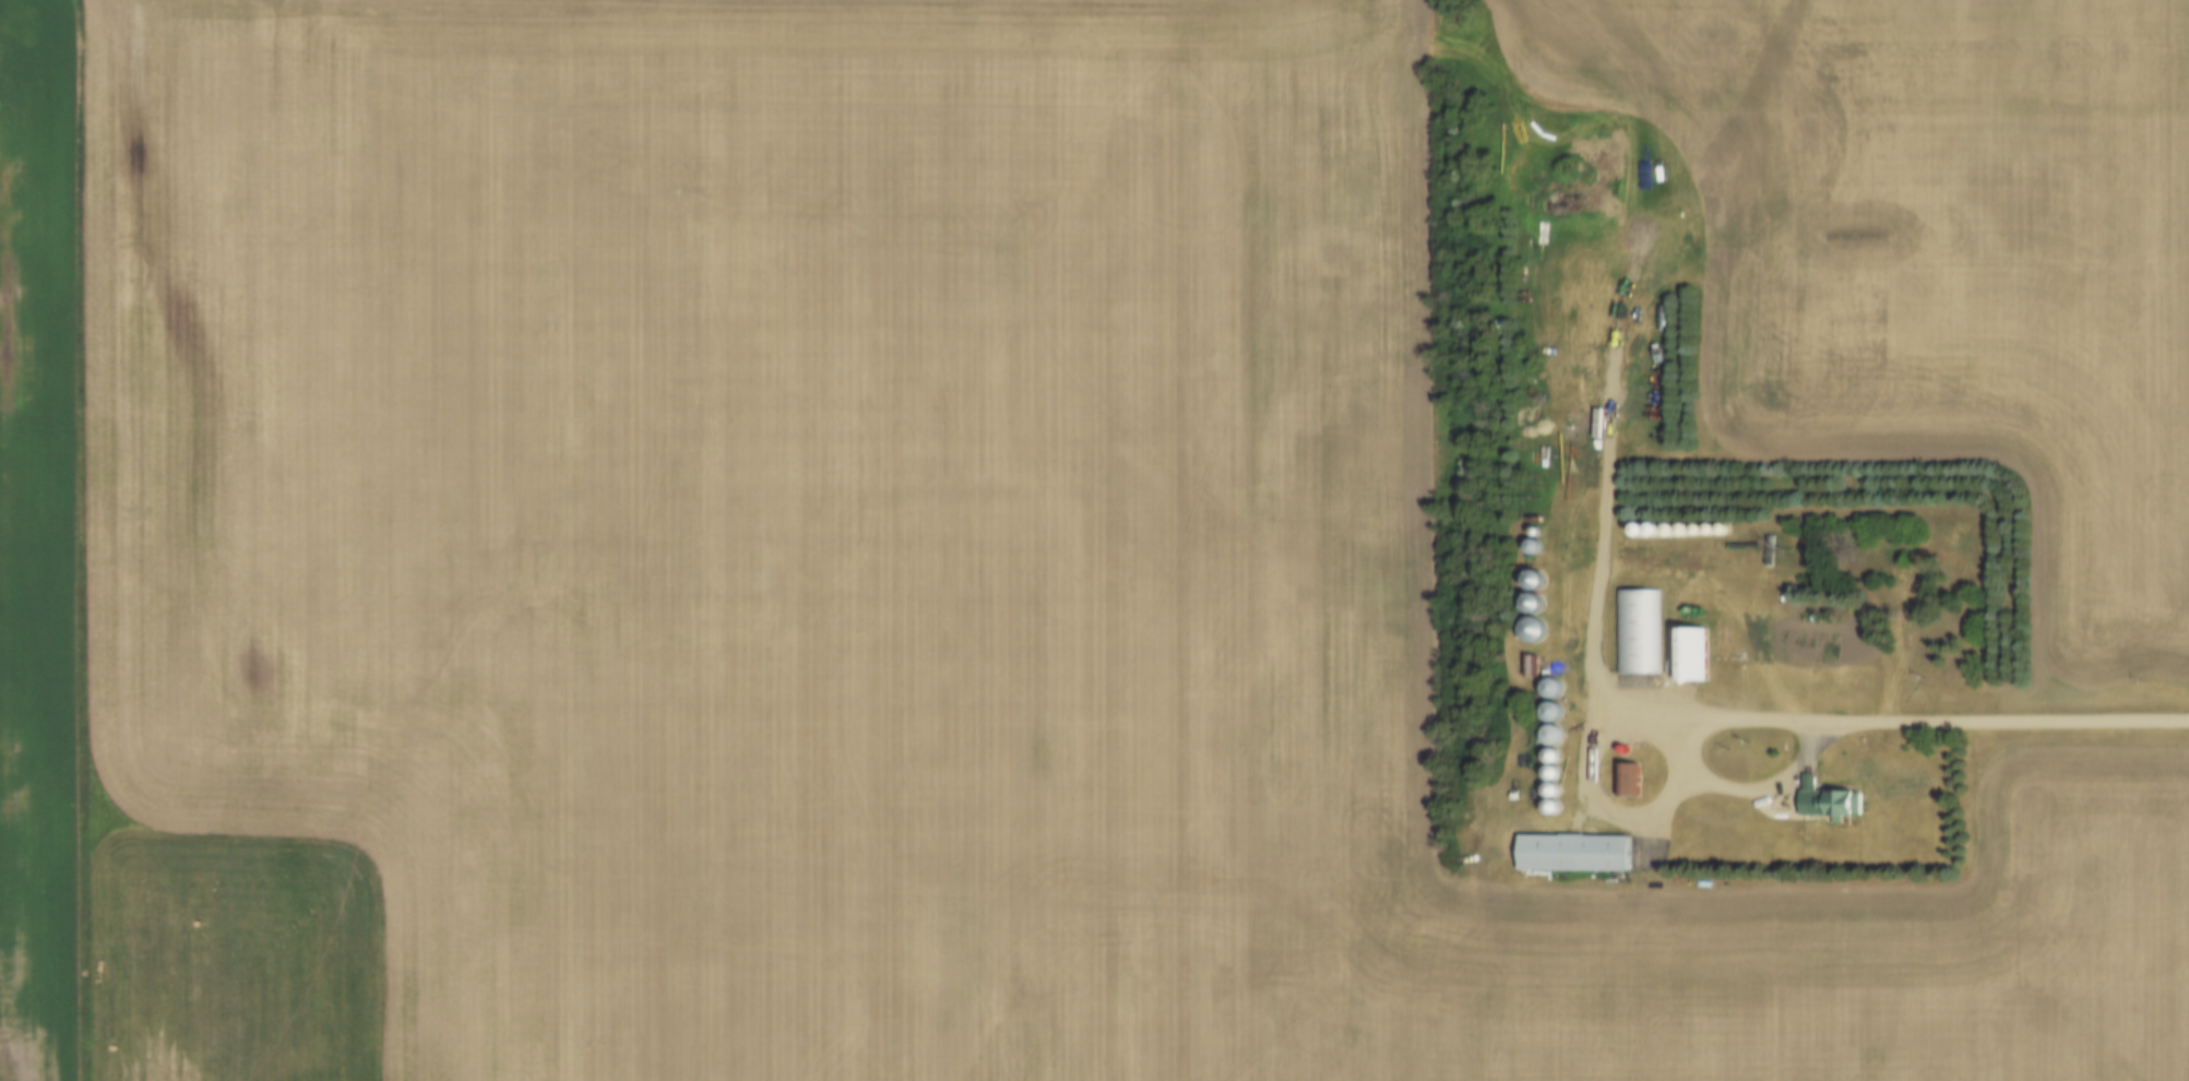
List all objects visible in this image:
building: (1741, 114)
silo: (1741, 114)
road: (1604, 509)
building: (1713, 524)
silo: (1713, 524)
building: (1726, 524)
silo: (1726, 524)
building: (1647, 525)
silo: (1647, 525)
building: (1663, 525)
silo: (1663, 525)
building: (1701, 525)
silo: (1701, 525)
building: (1539, 526)
silo: (1539, 526)
building: (1537, 542)
silo: (1537, 542)
building: (1537, 574)
silo: (1537, 574)
building: (1537, 598)
silo: (1537, 598)
building: (1581, 614)
building: (1536, 626)
silo: (1536, 626)
building: (1644, 626)
building: (1694, 649)
building: (1535, 661)
building: (1526, 666)
building: (1556, 684)
silo: (1556, 684)
building: (1556, 706)
silo: (1556, 706)
road: (2017, 721)
building: (1556, 729)
silo: (1556, 729)
building: (1628, 745)
silo: (1628, 745)
building: (1556, 751)
silo: (1556, 751)
building: (1556, 768)
silo: (1556, 768)
building: (1634, 776)
building: (1556, 785)
silo: (1556, 785)
road: (1582, 786)
building: (1832, 796)
building: (1556, 803)
silo: (1556, 803)
building: (1579, 847)

